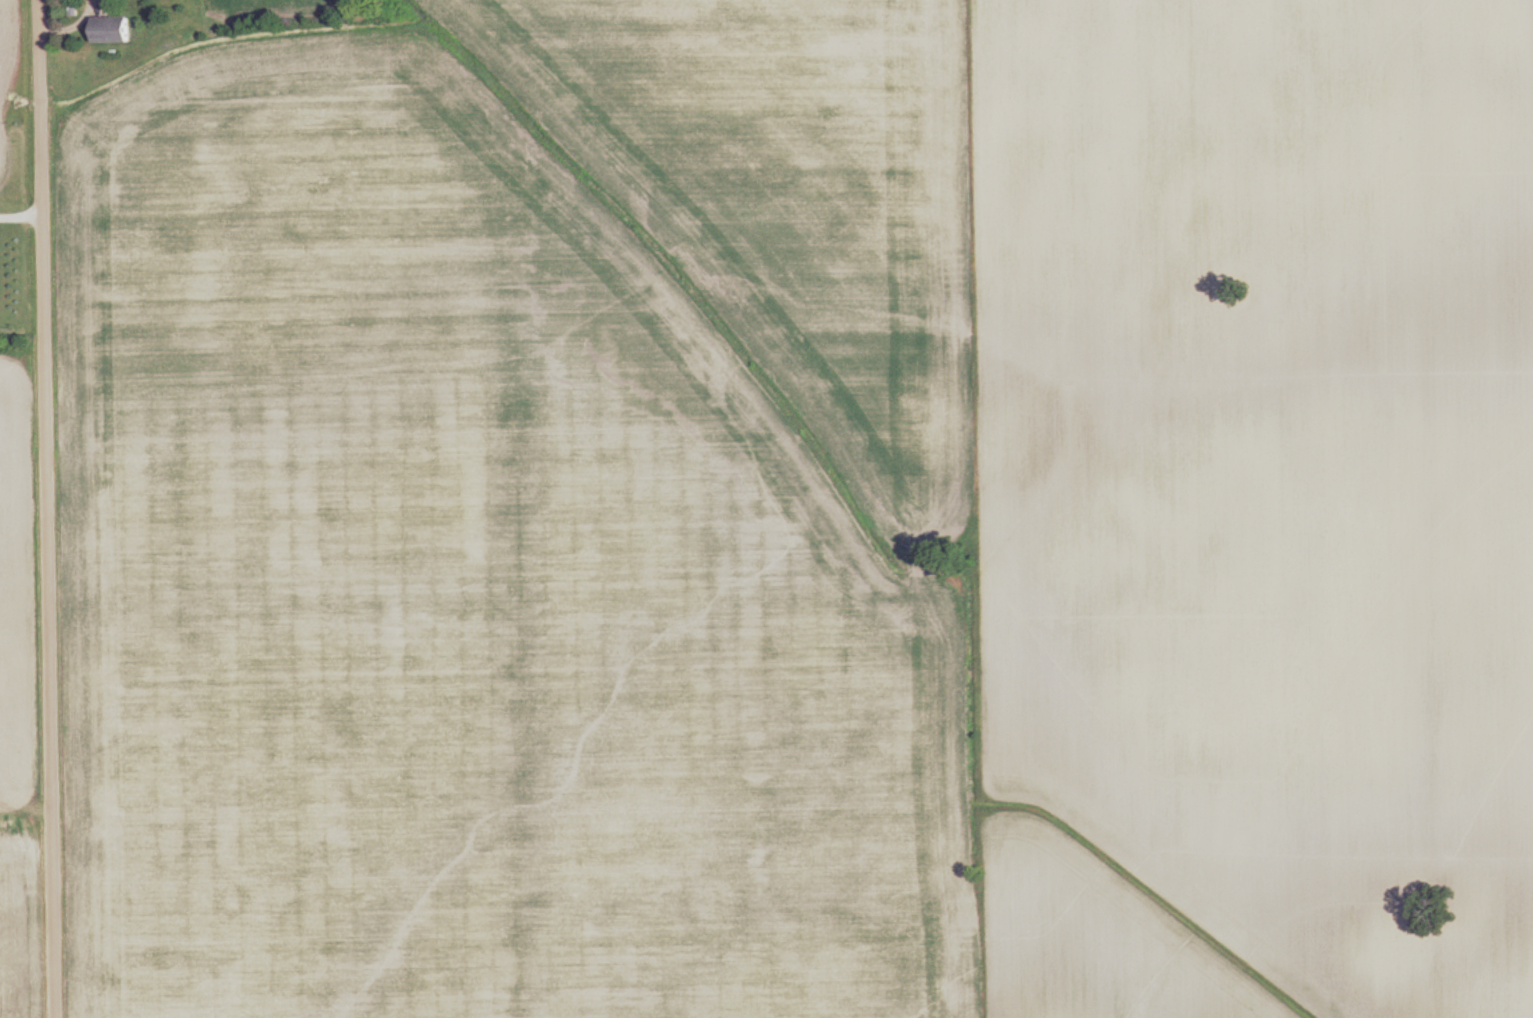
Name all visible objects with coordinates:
road: (71, 25)
building: (114, 29)
road: (21, 211)
road: (46, 509)

